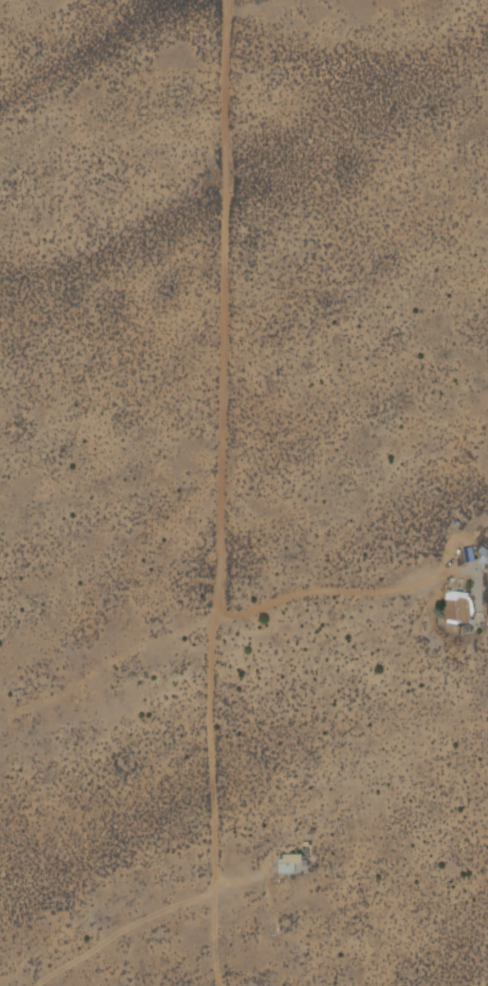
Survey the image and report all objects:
building: (288, 861)

